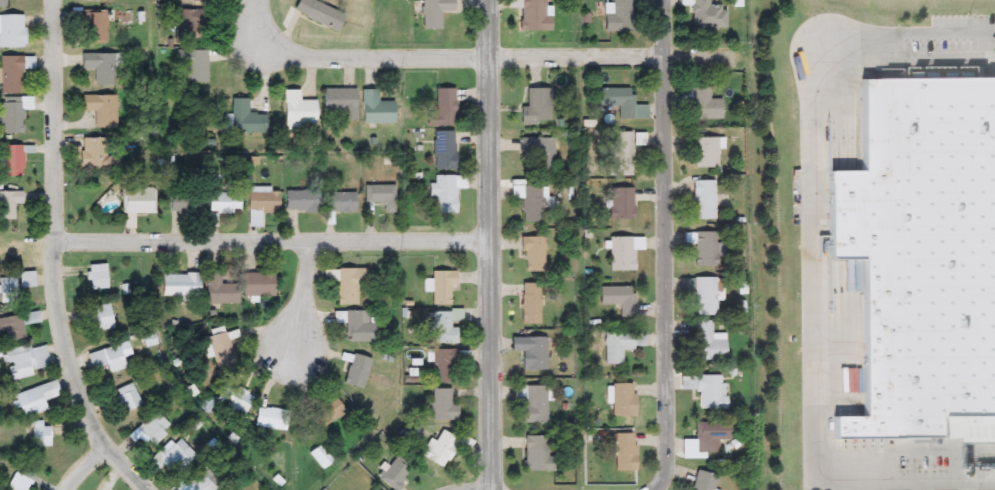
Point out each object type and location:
building: (203, 1)
building: (2, 3)
building: (434, 12)
building: (318, 13)
building: (705, 14)
building: (534, 15)
building: (616, 15)
building: (189, 26)
building: (94, 27)
building: (11, 31)
road: (943, 34)
road: (476, 59)
building: (191, 66)
building: (100, 67)
building: (11, 73)
building: (340, 102)
building: (619, 102)
building: (704, 105)
building: (536, 107)
building: (297, 108)
building: (100, 109)
building: (375, 109)
building: (442, 109)
building: (11, 116)
building: (245, 118)
building: (443, 151)
building: (703, 151)
building: (538, 152)
building: (620, 153)
building: (95, 155)
building: (11, 161)
building: (445, 192)
building: (381, 196)
building: (138, 200)
building: (262, 200)
building: (703, 200)
building: (300, 201)
building: (336, 202)
building: (8, 203)
building: (184, 203)
building: (529, 203)
building: (221, 204)
building: (620, 204)
road: (272, 241)
road: (490, 244)
road: (665, 246)
building: (707, 249)
building: (622, 252)
building: (922, 253)
building: (533, 254)
road: (54, 256)
building: (96, 276)
building: (180, 284)
building: (256, 284)
building: (348, 285)
building: (7, 287)
building: (220, 288)
building: (441, 288)
building: (704, 296)
road: (303, 298)
building: (618, 299)
building: (529, 303)
building: (97, 317)
road: (809, 322)
building: (16, 325)
building: (354, 326)
building: (444, 328)
building: (707, 342)
building: (619, 345)
building: (217, 348)
building: (534, 354)
building: (104, 357)
building: (24, 361)
building: (445, 364)
building: (355, 373)
building: (710, 392)
building: (127, 397)
building: (621, 400)
building: (33, 401)
building: (233, 401)
building: (534, 404)
building: (442, 406)
building: (326, 413)
building: (270, 419)
building: (153, 429)
building: (40, 435)
building: (709, 436)
building: (978, 436)
building: (445, 448)
building: (624, 452)
building: (537, 454)
building: (178, 456)
building: (320, 457)
road: (83, 467)
building: (393, 476)
building: (19, 479)
building: (202, 480)
building: (703, 481)
building: (372, 489)

